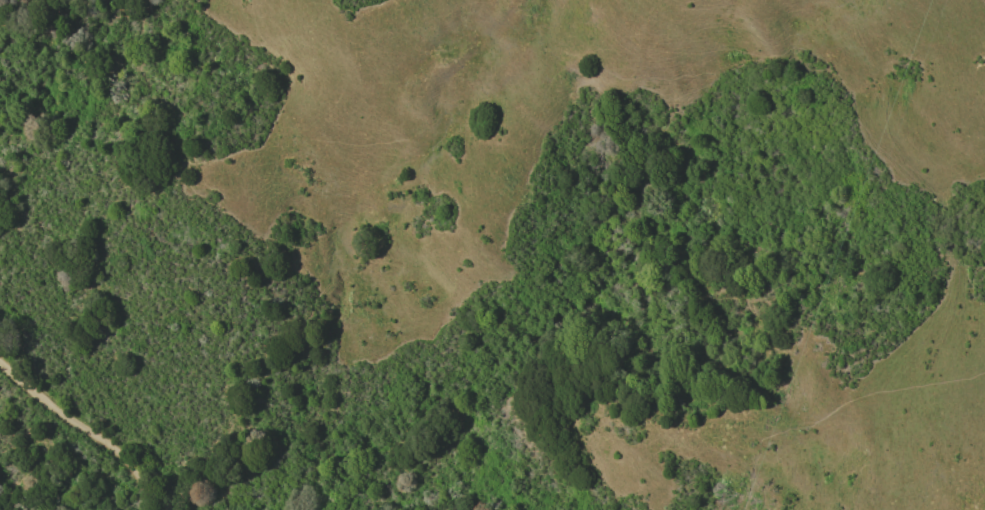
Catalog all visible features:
road: (88, 429)

